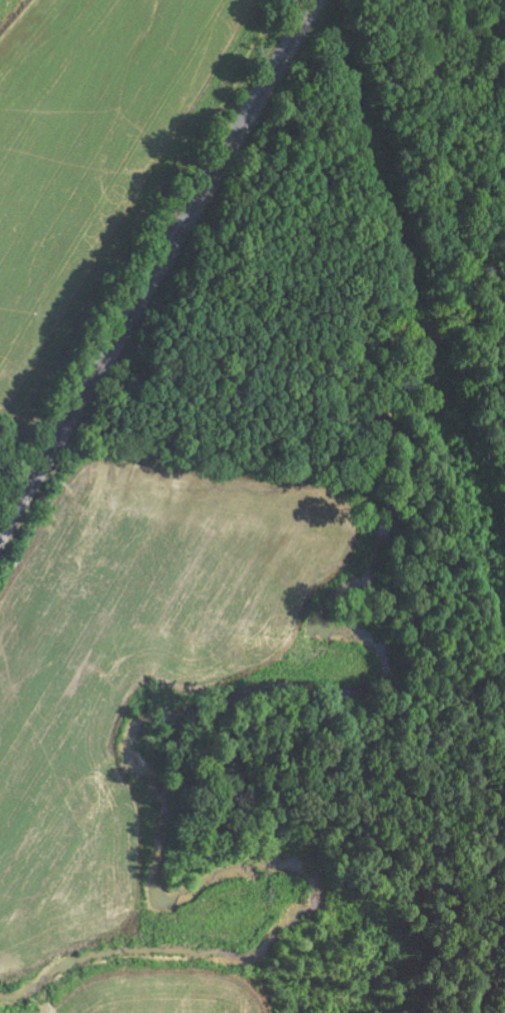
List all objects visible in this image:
railway: (157, 270)

